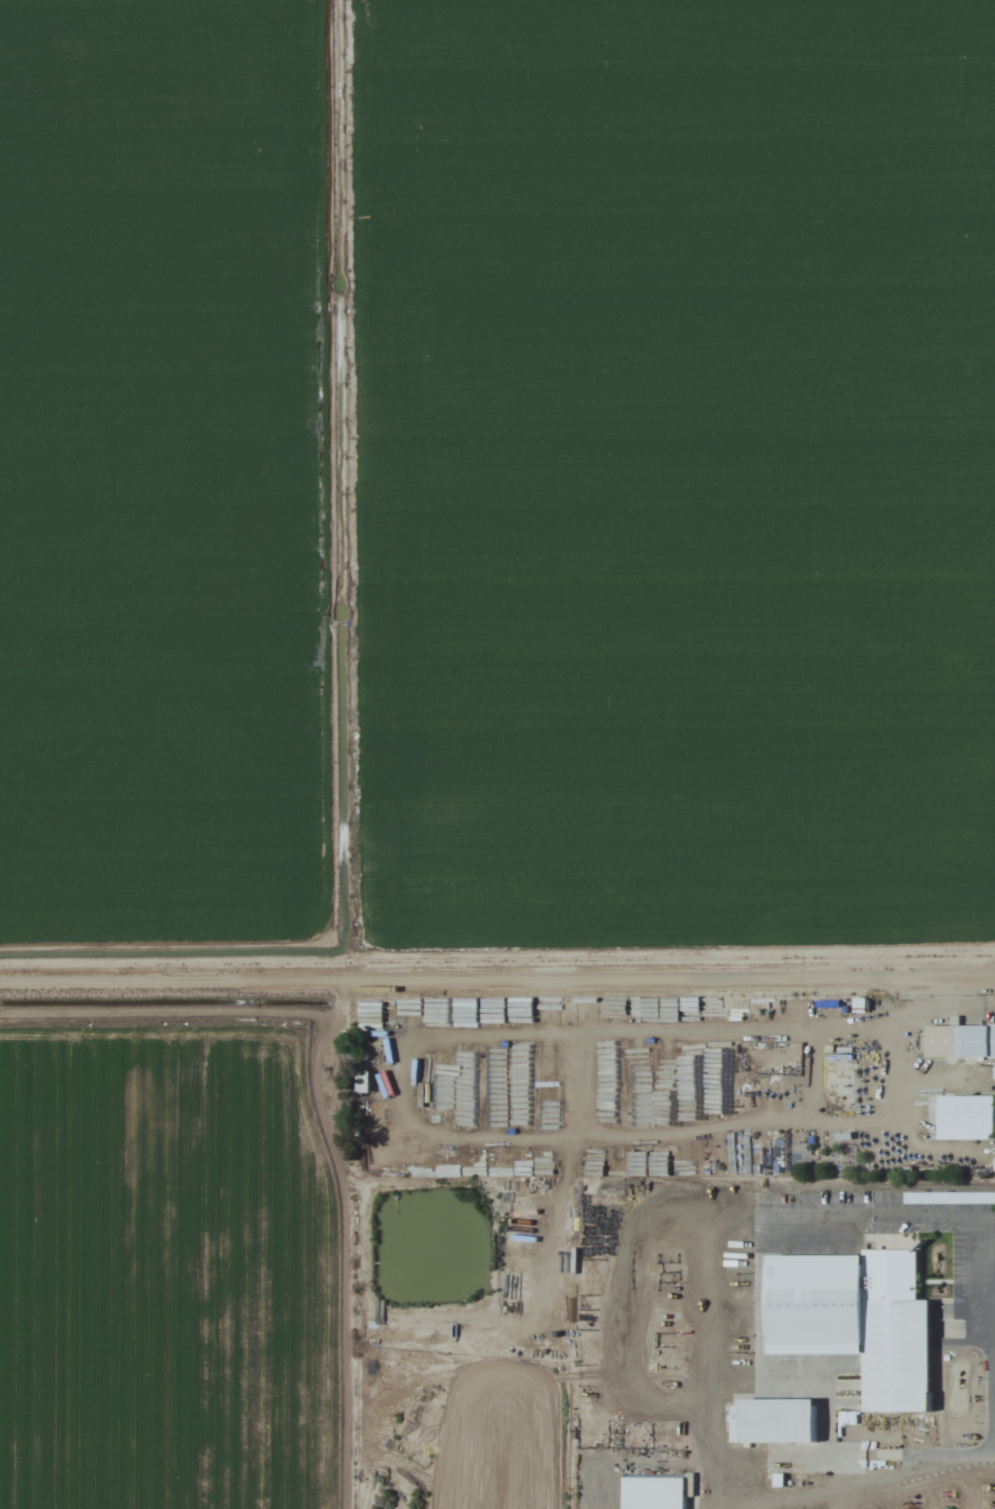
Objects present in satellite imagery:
road: (497, 981)
building: (859, 1005)
building: (532, 1009)
building: (433, 1013)
building: (960, 1041)
building: (362, 1083)
building: (838, 1088)
building: (949, 1198)
building: (856, 1321)
building: (773, 1422)
building: (653, 1492)

